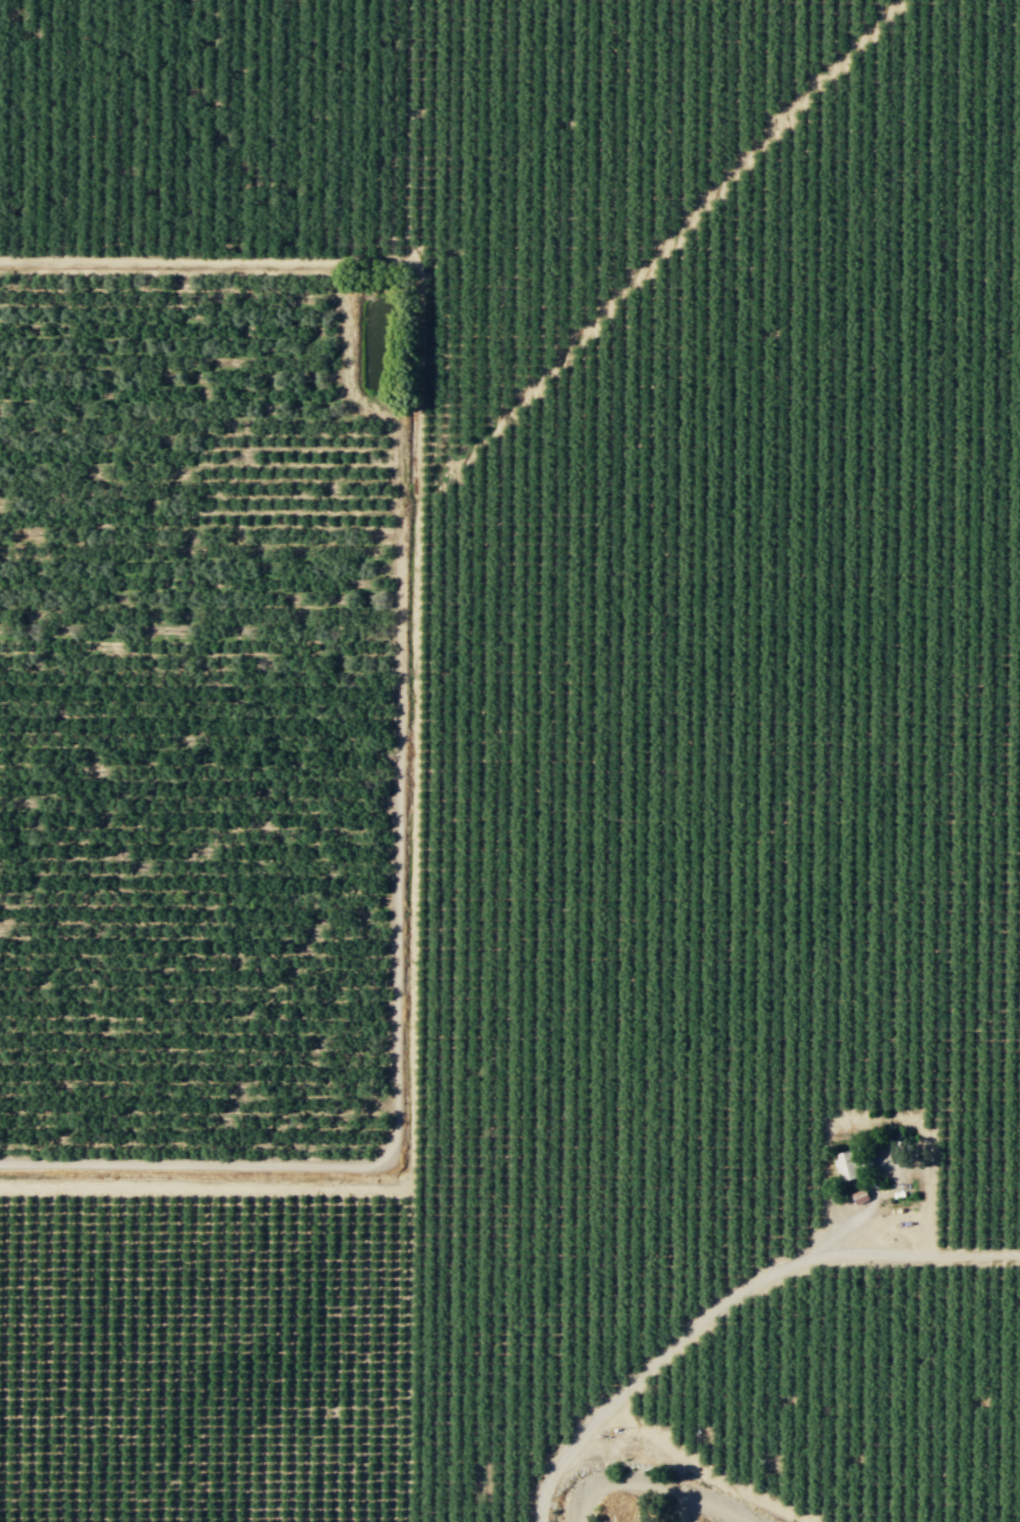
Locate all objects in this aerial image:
road: (670, 239)
road: (416, 682)
building: (845, 1165)
building: (860, 1195)
road: (875, 1248)
road: (619, 1387)
road: (700, 1469)

